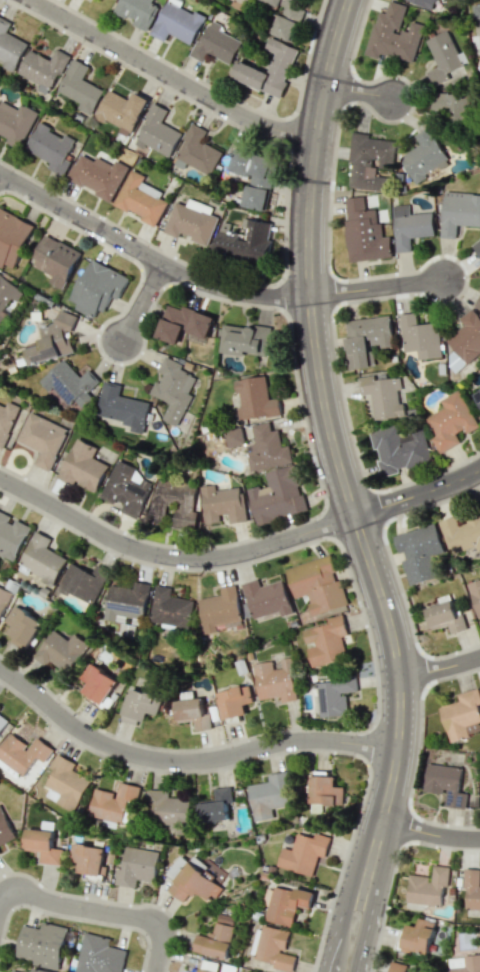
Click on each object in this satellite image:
building: (424, 3)
building: (240, 4)
building: (138, 11)
building: (476, 11)
building: (286, 18)
building: (176, 23)
building: (393, 35)
building: (217, 44)
building: (10, 46)
building: (445, 61)
building: (280, 66)
building: (43, 69)
road: (170, 77)
building: (80, 87)
road: (359, 93)
building: (451, 105)
building: (121, 111)
building: (15, 122)
building: (158, 132)
building: (51, 147)
building: (198, 150)
building: (424, 154)
building: (369, 161)
building: (98, 175)
building: (253, 177)
building: (140, 200)
building: (459, 212)
building: (191, 221)
building: (410, 226)
building: (364, 232)
building: (12, 237)
building: (245, 241)
building: (477, 247)
road: (148, 253)
building: (56, 260)
building: (98, 288)
road: (378, 288)
building: (7, 295)
road: (143, 300)
building: (478, 304)
building: (183, 323)
building: (420, 337)
building: (467, 337)
building: (53, 339)
building: (243, 339)
building: (366, 339)
building: (174, 389)
building: (383, 395)
building: (477, 395)
building: (255, 399)
building: (123, 407)
building: (7, 421)
building: (451, 421)
building: (234, 436)
road: (332, 437)
building: (43, 438)
building: (266, 448)
building: (399, 449)
building: (83, 466)
building: (127, 489)
building: (277, 495)
road: (419, 495)
building: (173, 502)
building: (223, 504)
building: (461, 534)
building: (11, 536)
building: (419, 552)
road: (172, 555)
building: (41, 559)
building: (83, 582)
building: (317, 584)
building: (475, 595)
building: (266, 598)
building: (3, 599)
building: (126, 602)
building: (219, 608)
building: (170, 609)
building: (445, 617)
building: (22, 627)
building: (326, 641)
building: (61, 650)
road: (439, 671)
building: (275, 680)
building: (98, 685)
building: (334, 695)
building: (234, 701)
building: (140, 705)
building: (193, 713)
building: (461, 714)
building: (2, 721)
building: (22, 753)
road: (186, 761)
building: (67, 783)
building: (445, 784)
building: (325, 791)
building: (269, 795)
building: (115, 803)
building: (216, 805)
building: (169, 810)
building: (5, 829)
road: (431, 830)
building: (43, 845)
building: (0, 853)
building: (304, 853)
building: (90, 860)
building: (137, 866)
building: (191, 881)
building: (427, 887)
building: (472, 889)
road: (356, 891)
building: (285, 904)
road: (98, 911)
road: (368, 920)
road: (341, 925)
building: (416, 936)
building: (217, 937)
building: (41, 944)
building: (273, 947)
road: (333, 954)
building: (99, 955)
building: (463, 963)
building: (208, 966)
building: (401, 967)
building: (37, 970)
building: (14, 971)

